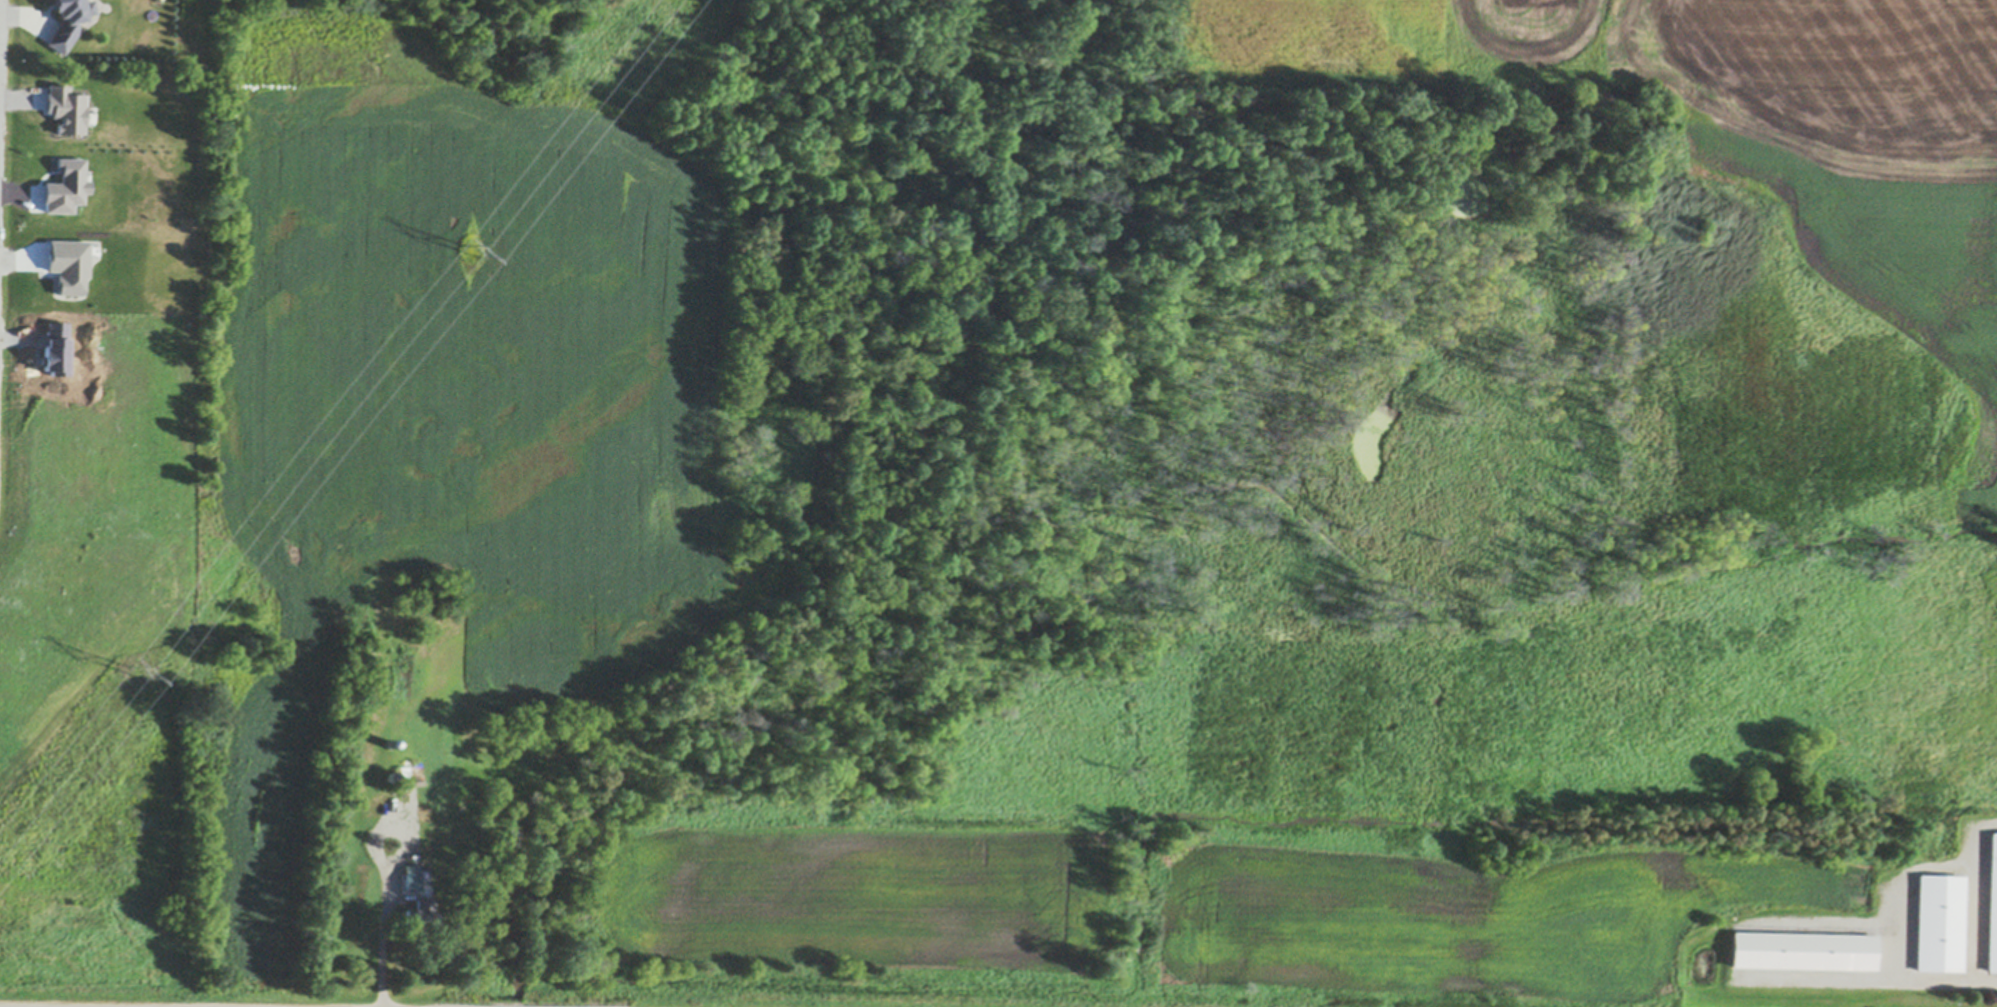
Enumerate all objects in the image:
building: (68, 21)
crop: (1857, 152)
power tower: (467, 252)
river: (836, 586)
power tower: (136, 667)
building: (388, 743)
building: (392, 778)
building: (404, 785)
crop: (903, 860)
building: (412, 882)
building: (1992, 906)
building: (420, 917)
building: (1940, 923)
road: (380, 950)
building: (1804, 950)
river: (506, 1003)

